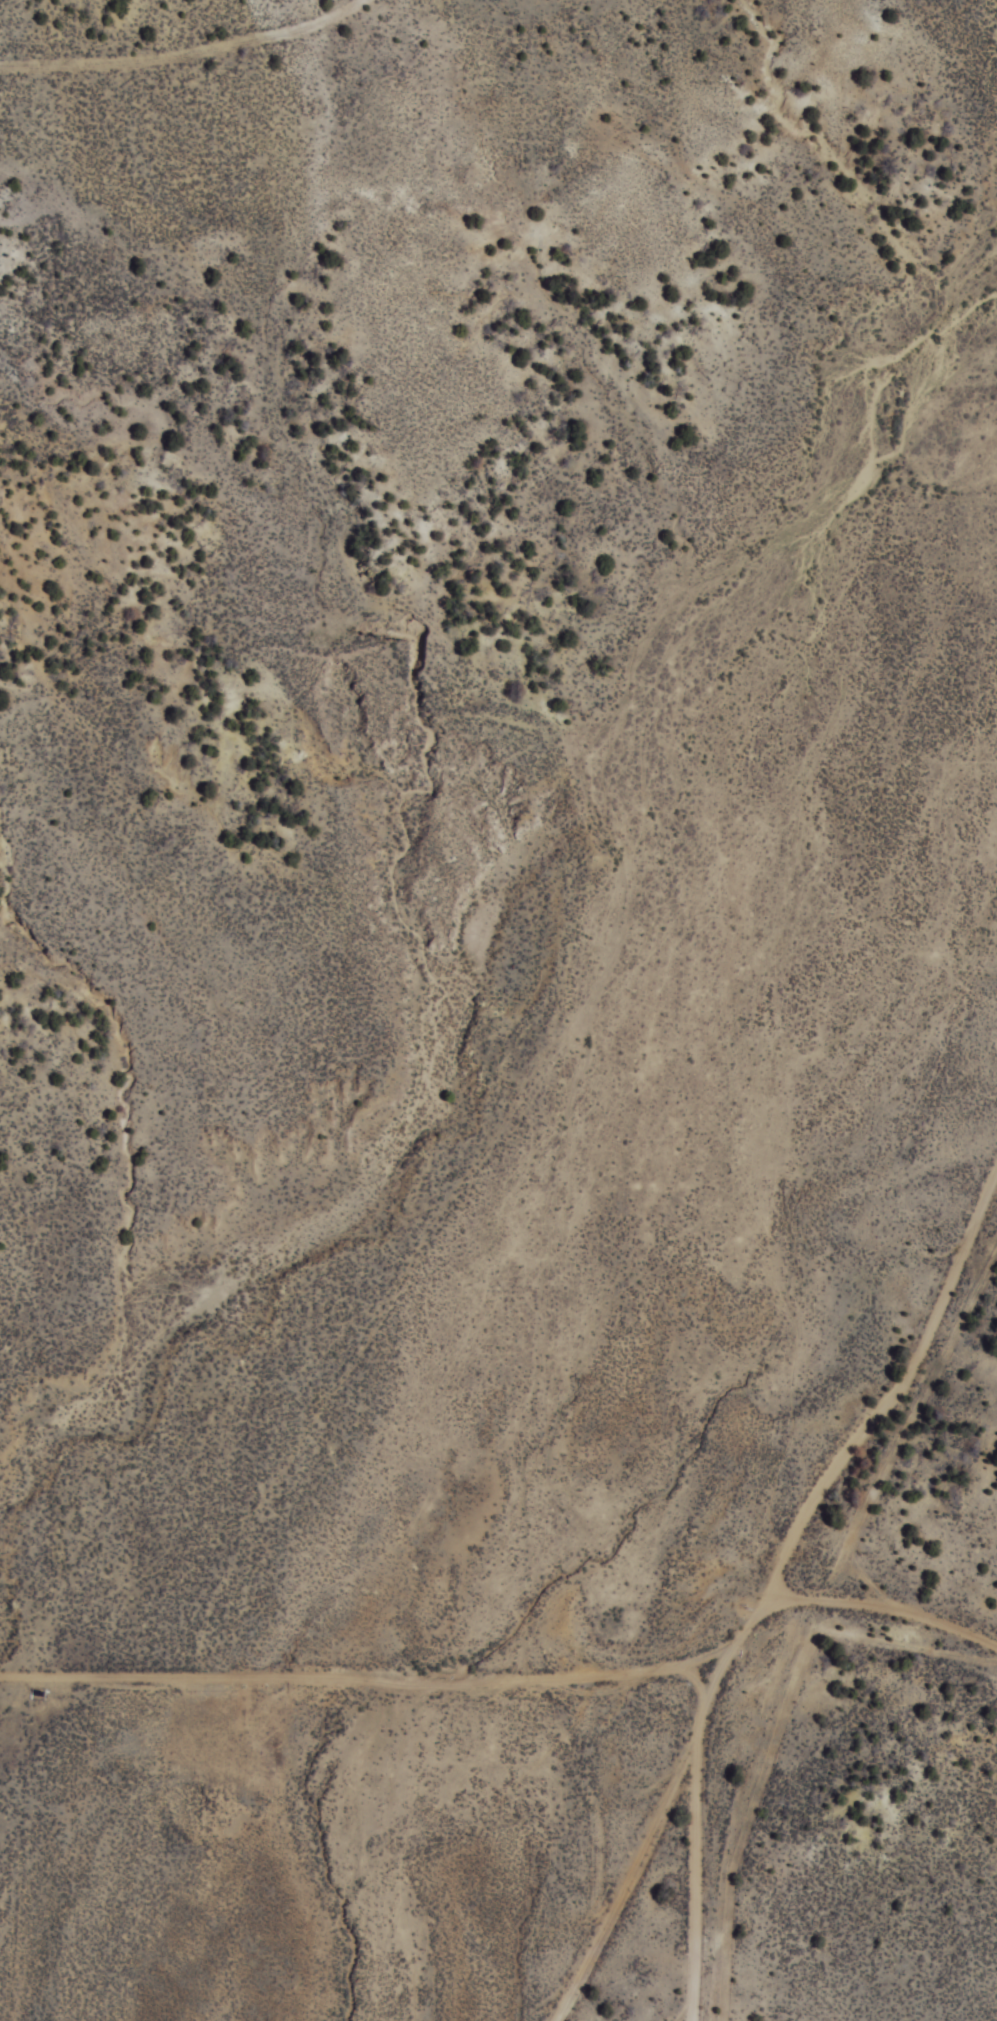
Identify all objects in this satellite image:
road: (900, 1599)
road: (667, 1729)
road: (24, 1873)
road: (726, 1874)
road: (648, 1875)

